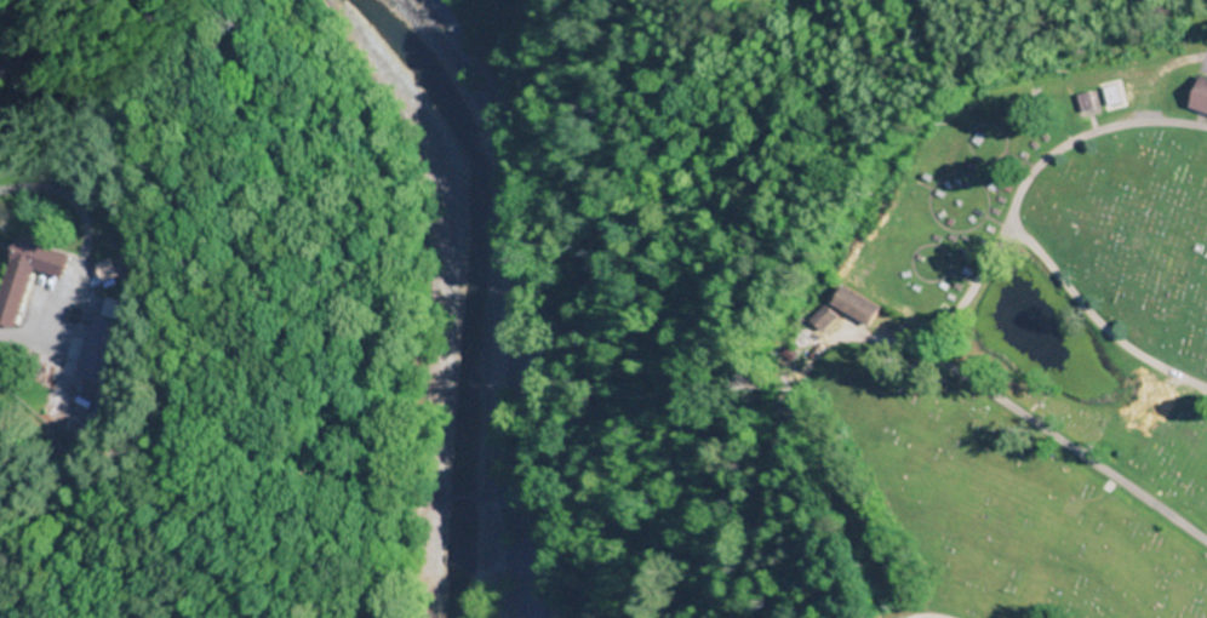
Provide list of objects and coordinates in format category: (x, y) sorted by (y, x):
building: (1199, 97)
building: (1079, 103)
park: (309, 256)
building: (27, 277)
building: (857, 307)
building: (825, 320)
road: (942, 320)
road: (1091, 321)
building: (105, 353)
park: (1032, 354)
road: (928, 616)

